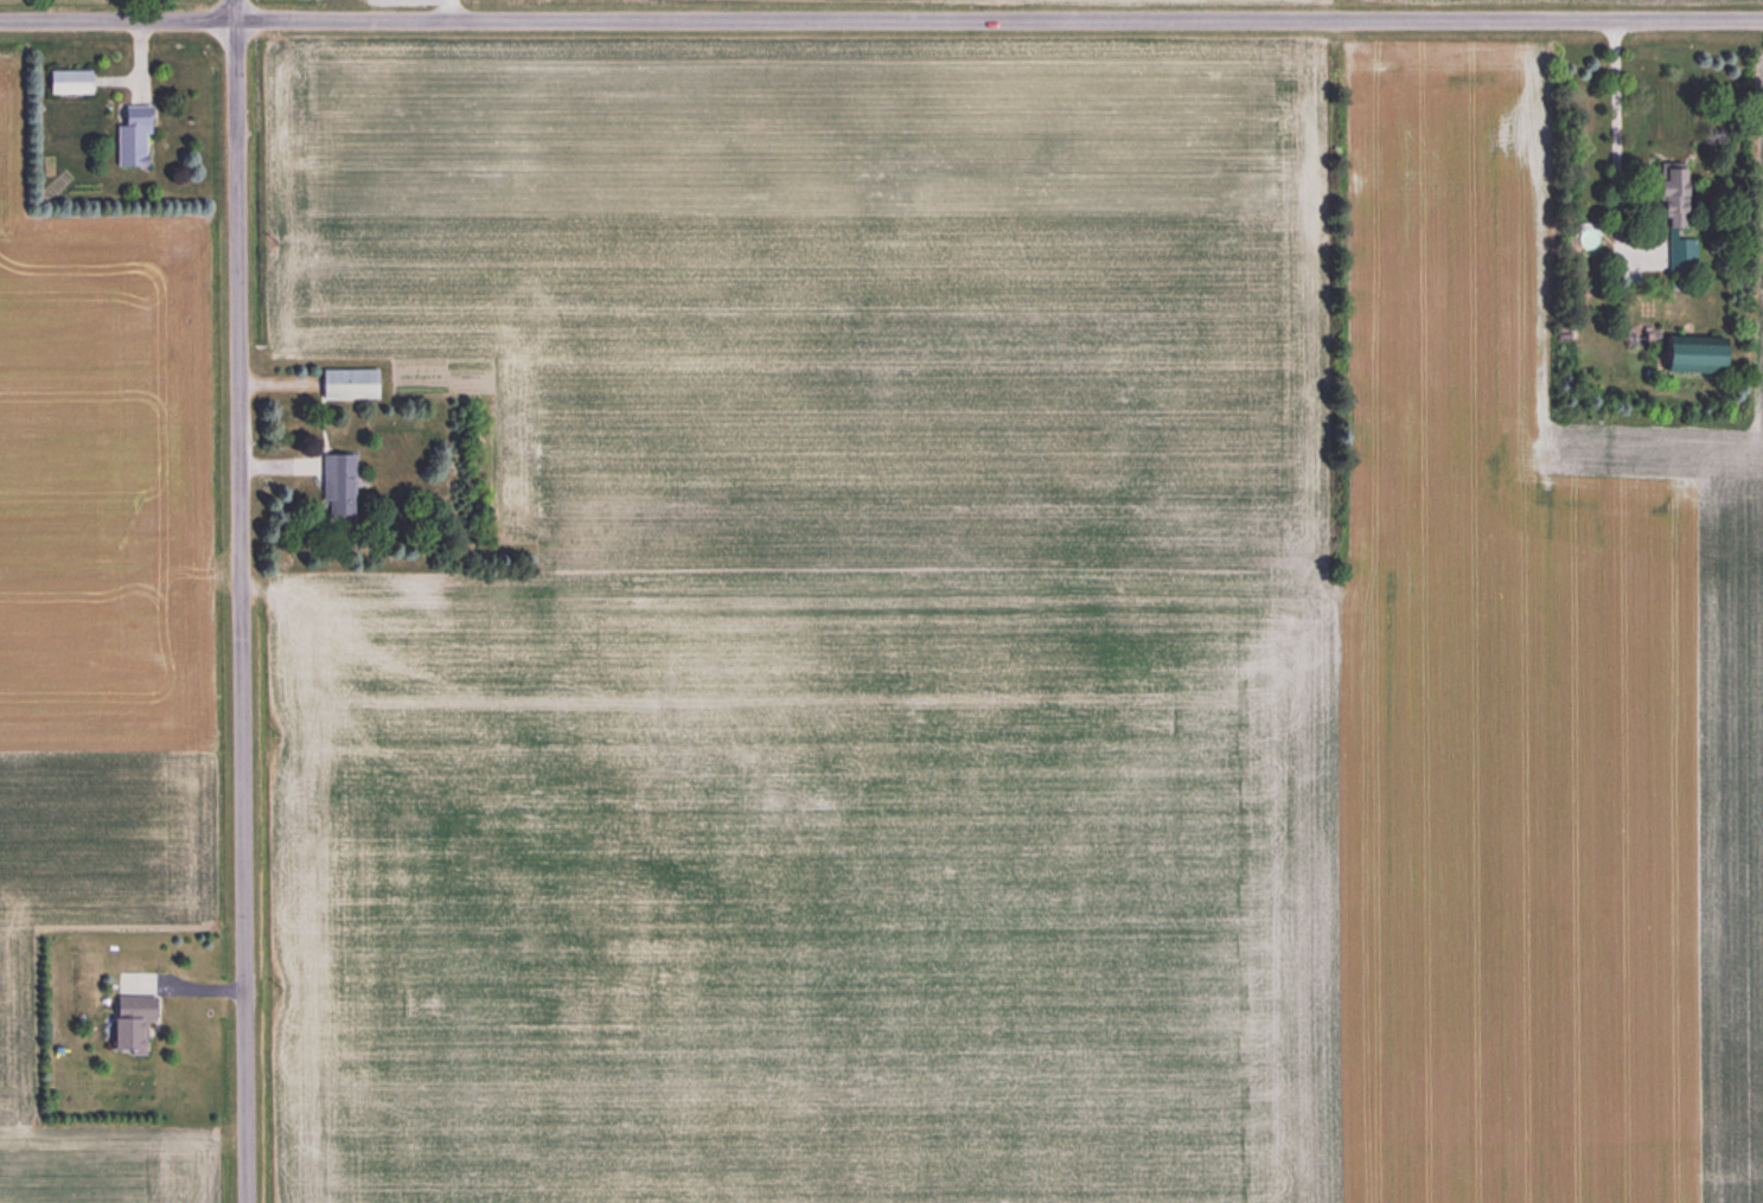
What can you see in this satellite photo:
road: (881, 20)
building: (68, 82)
building: (130, 136)
road: (1616, 137)
building: (1674, 220)
building: (1688, 354)
building: (349, 382)
building: (338, 484)
road: (242, 601)
building: (128, 1022)

